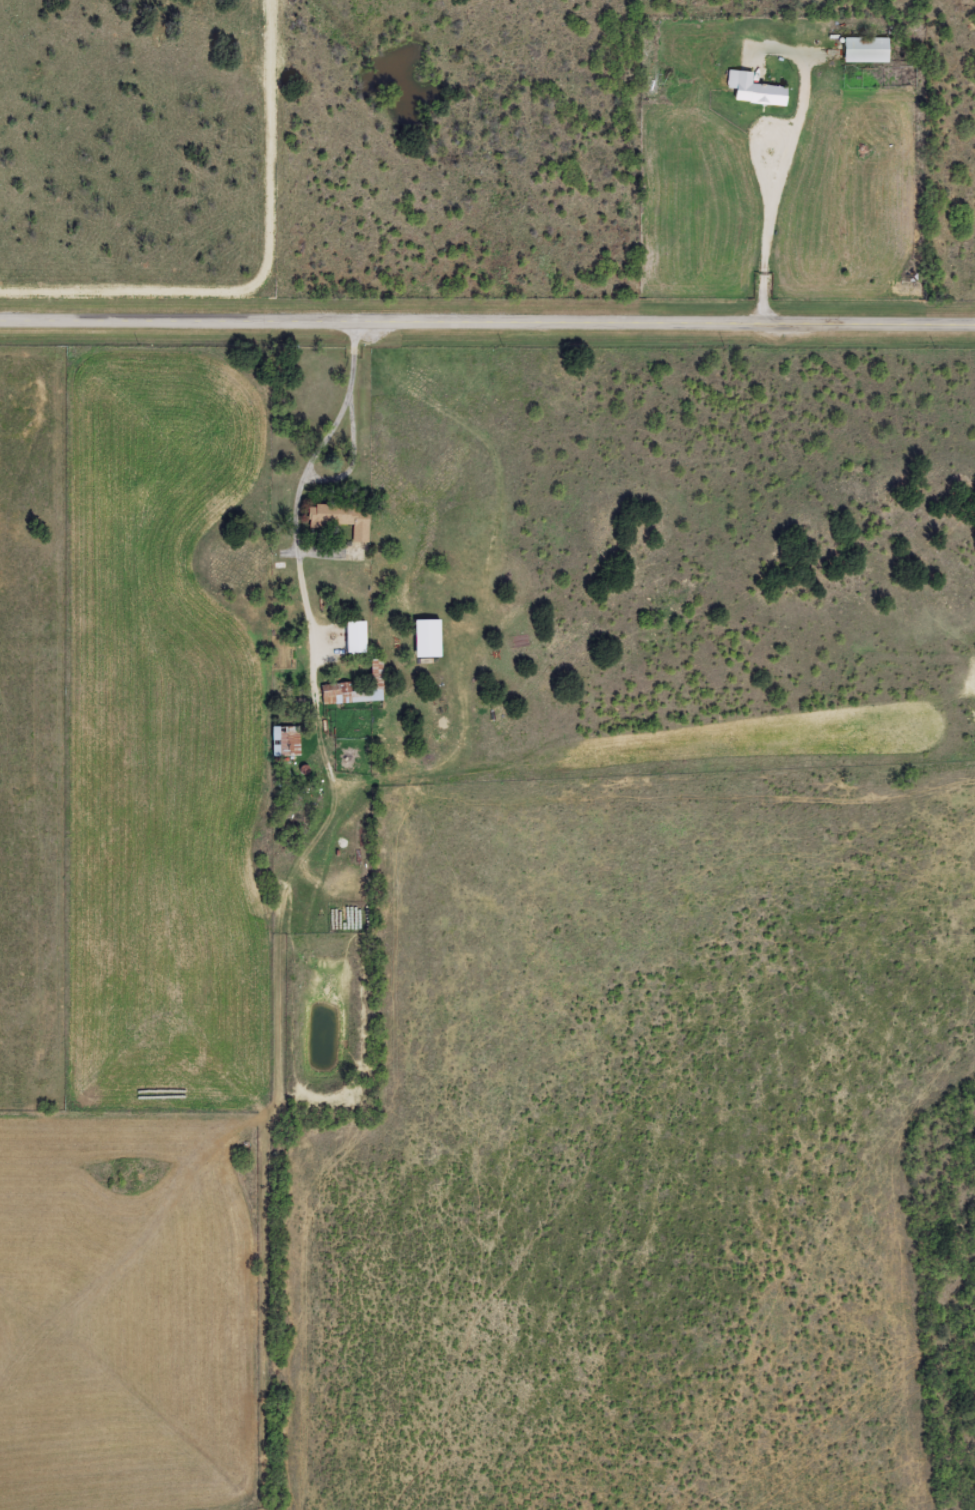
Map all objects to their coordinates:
building: (867, 49)
building: (755, 90)
road: (487, 321)
building: (342, 519)
building: (356, 637)
building: (428, 638)
building: (376, 672)
building: (286, 741)
road: (426, 776)
road: (324, 833)

